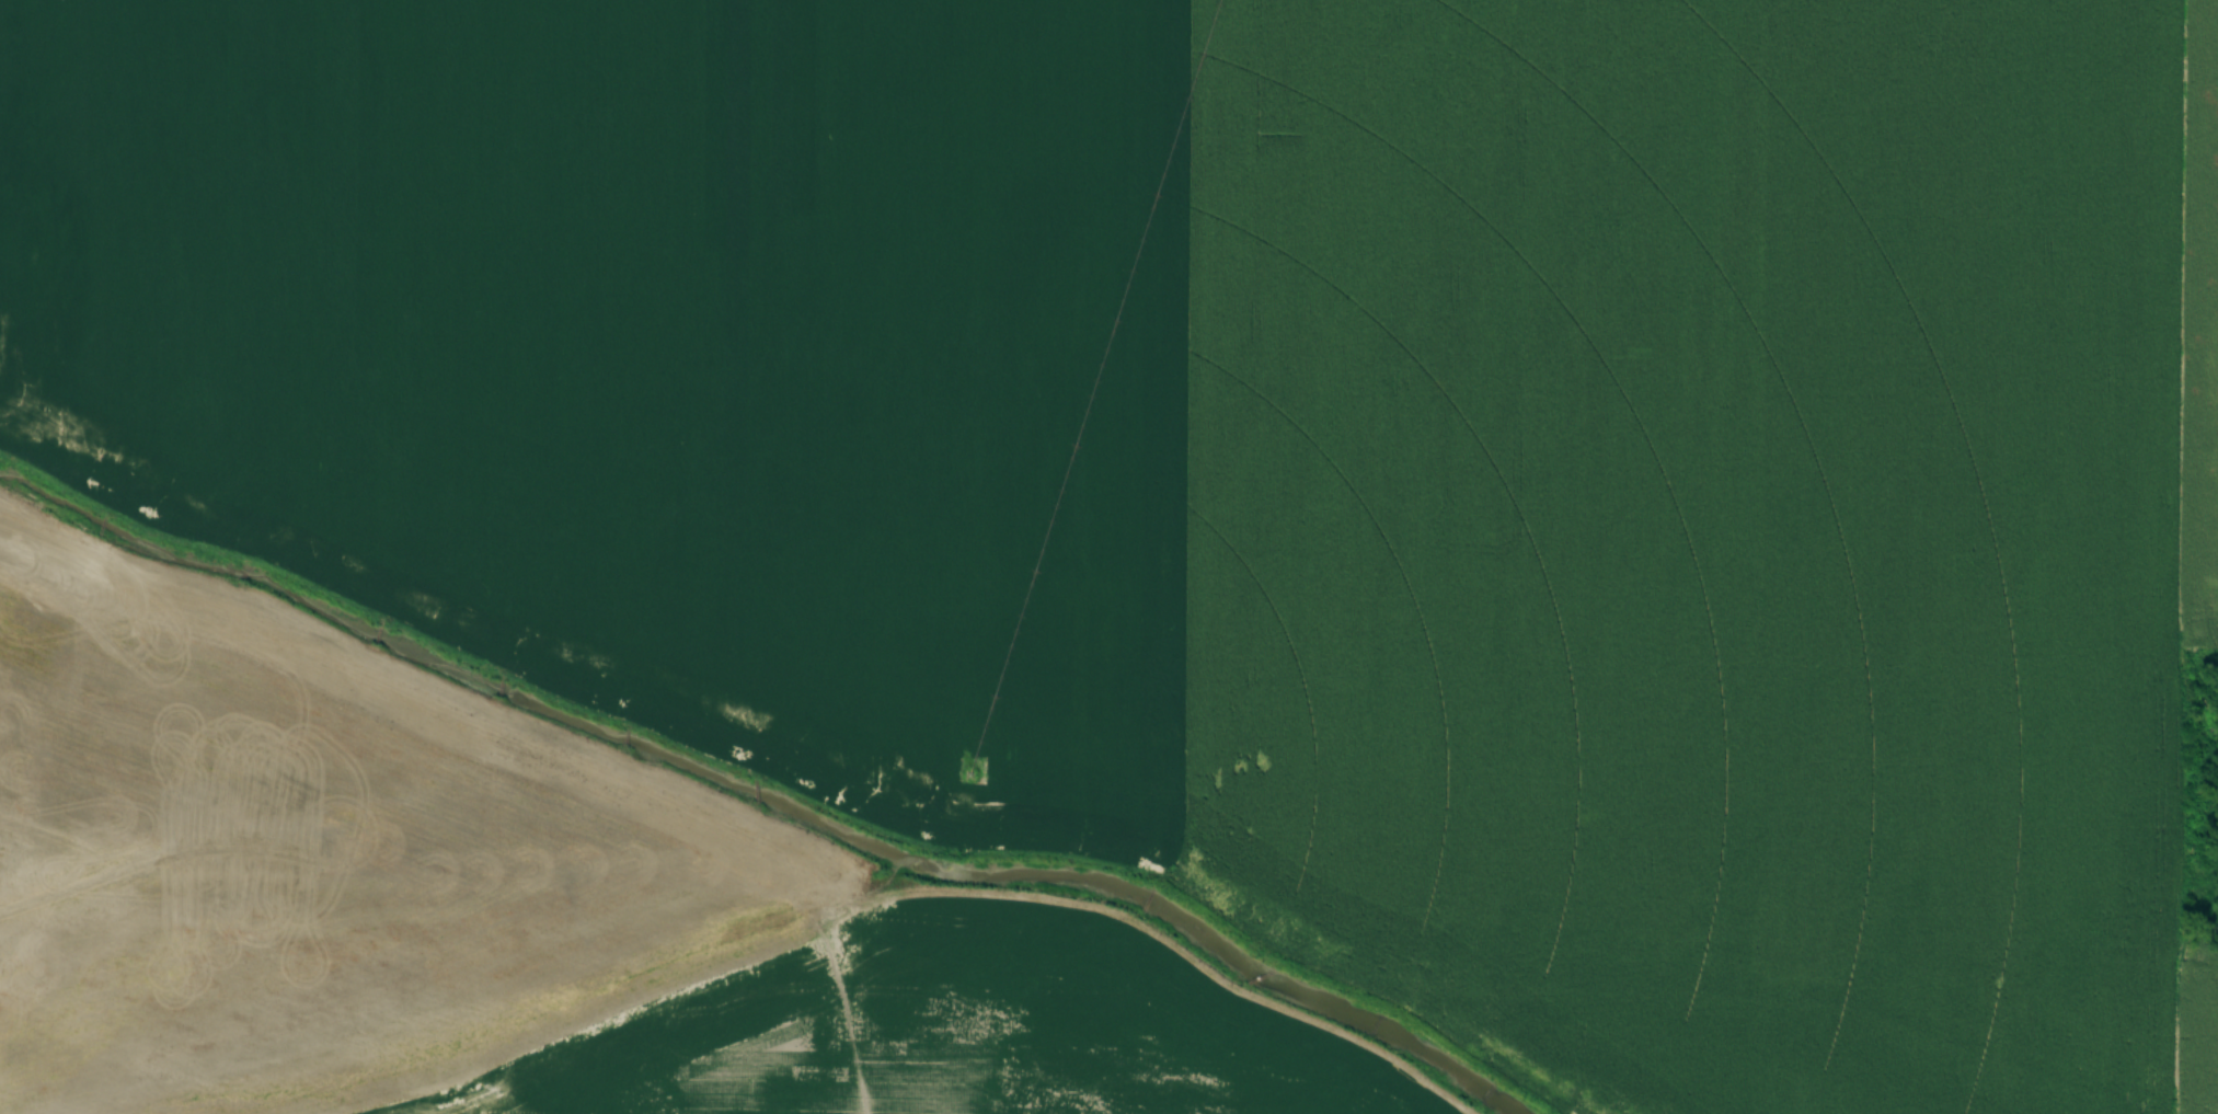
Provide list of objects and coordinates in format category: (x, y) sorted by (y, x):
park: (2202, 795)

